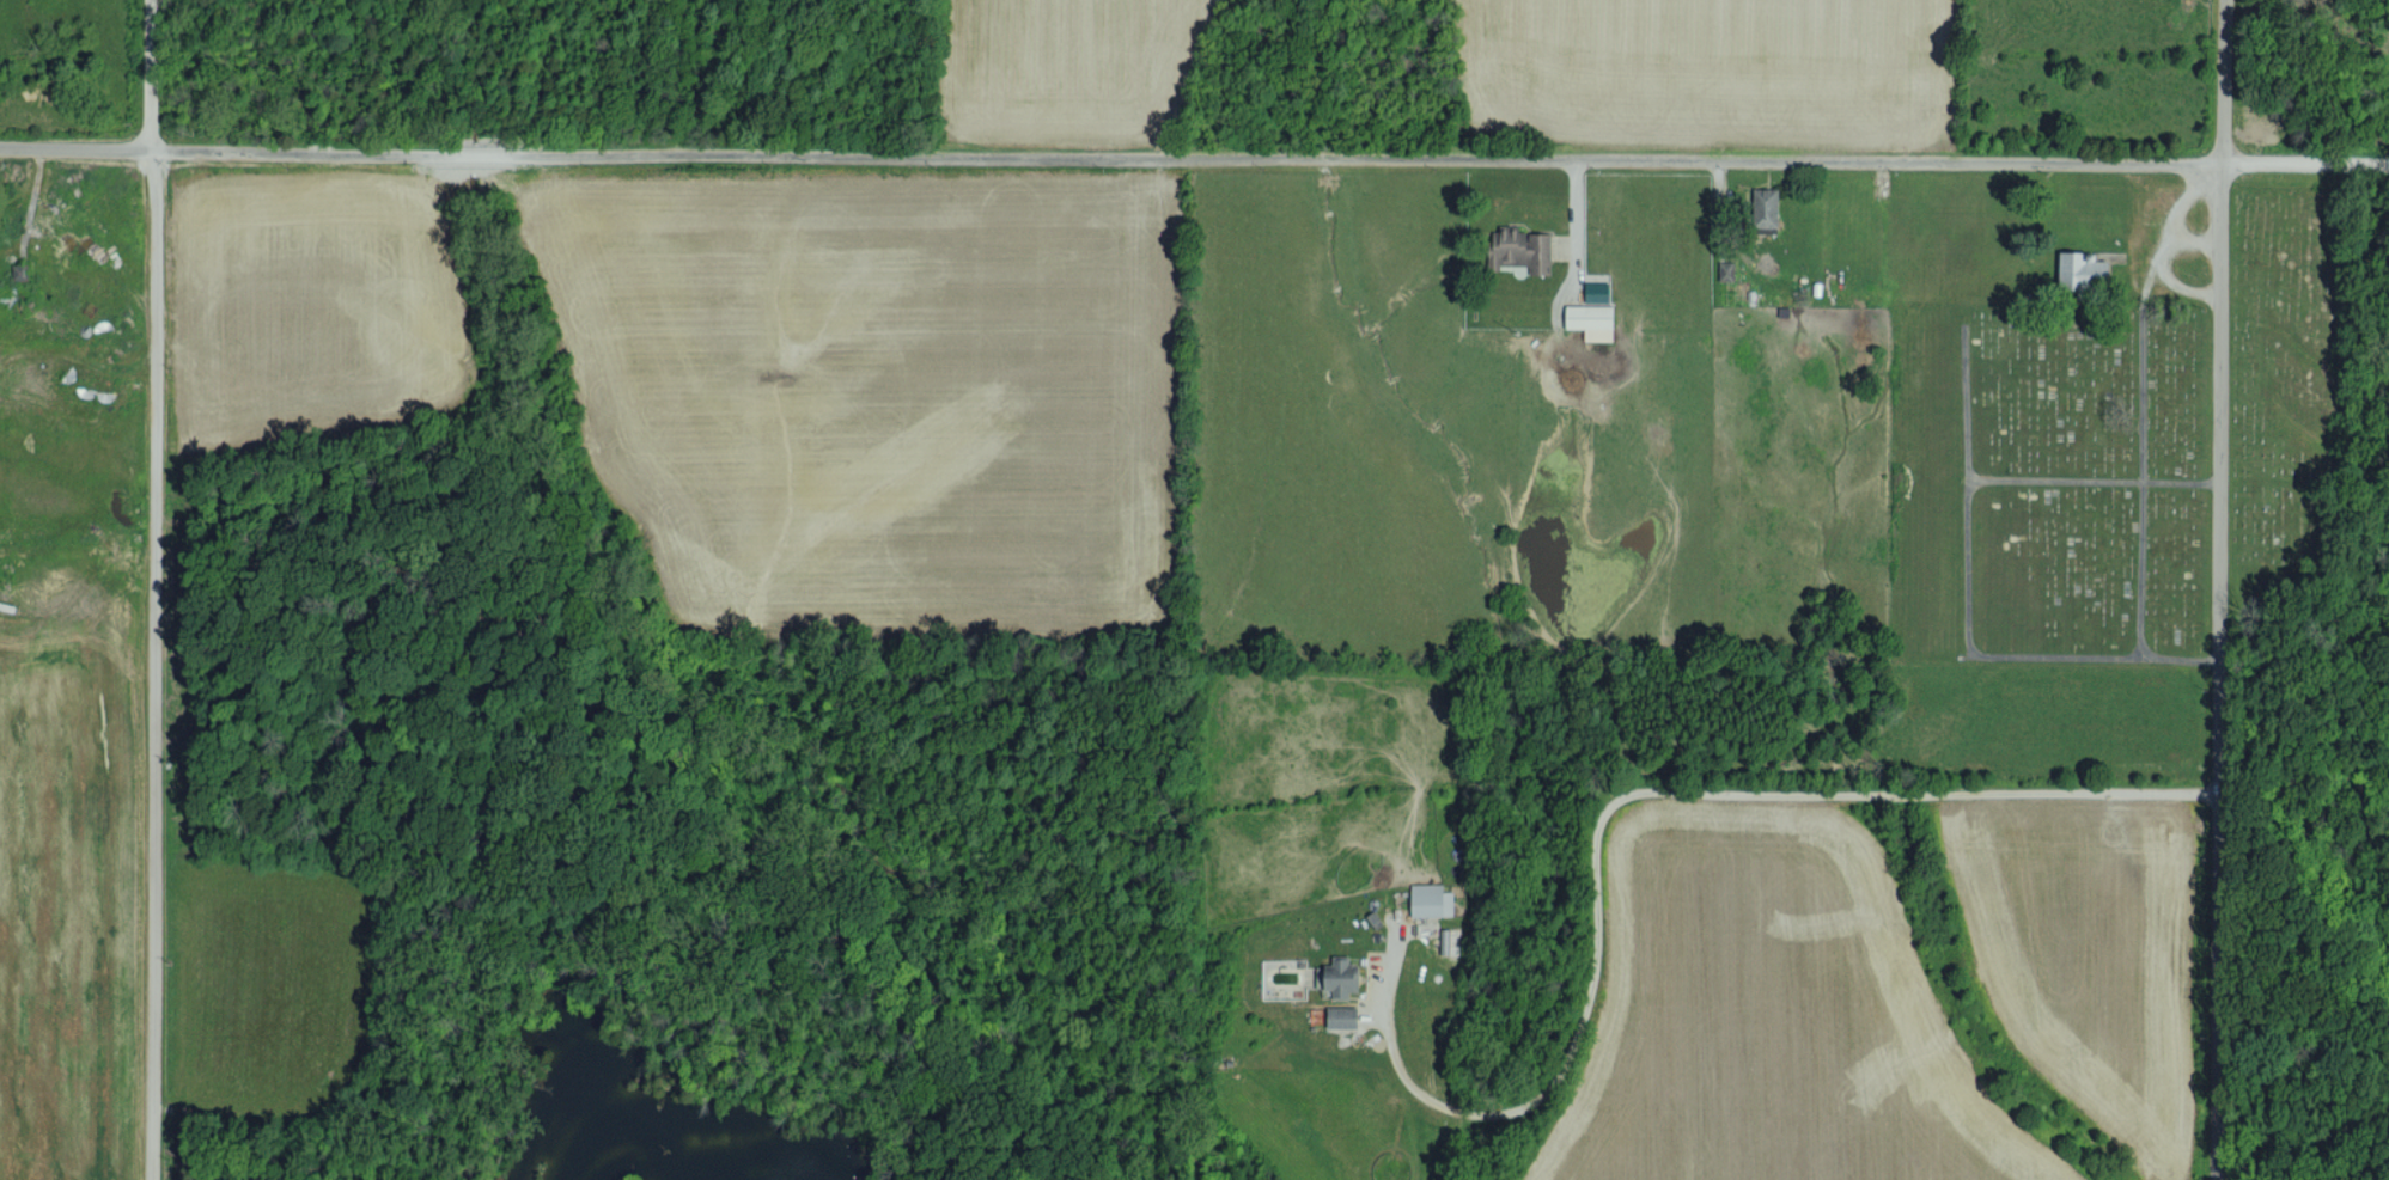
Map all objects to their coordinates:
road: (77, 132)
road: (1272, 141)
building: (1768, 207)
road: (2161, 225)
road: (2190, 226)
building: (1525, 249)
building: (2085, 258)
building: (1726, 270)
building: (1599, 292)
building: (1593, 320)
road: (2141, 446)
road: (2092, 465)
road: (154, 589)
road: (2218, 589)
road: (1968, 597)
road: (1617, 782)
building: (1432, 899)
road: (1448, 958)
building: (1341, 976)
building: (1343, 1015)

